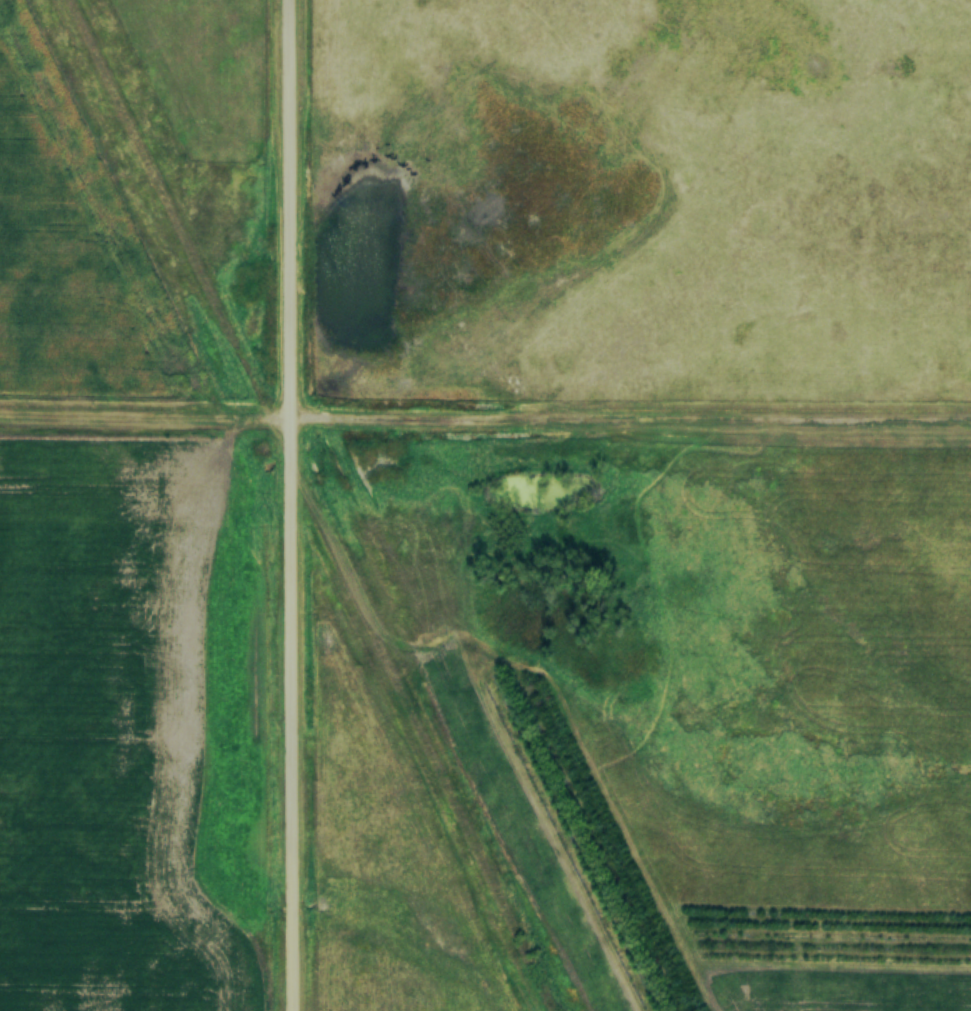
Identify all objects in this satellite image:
road: (146, 402)
road: (293, 505)

